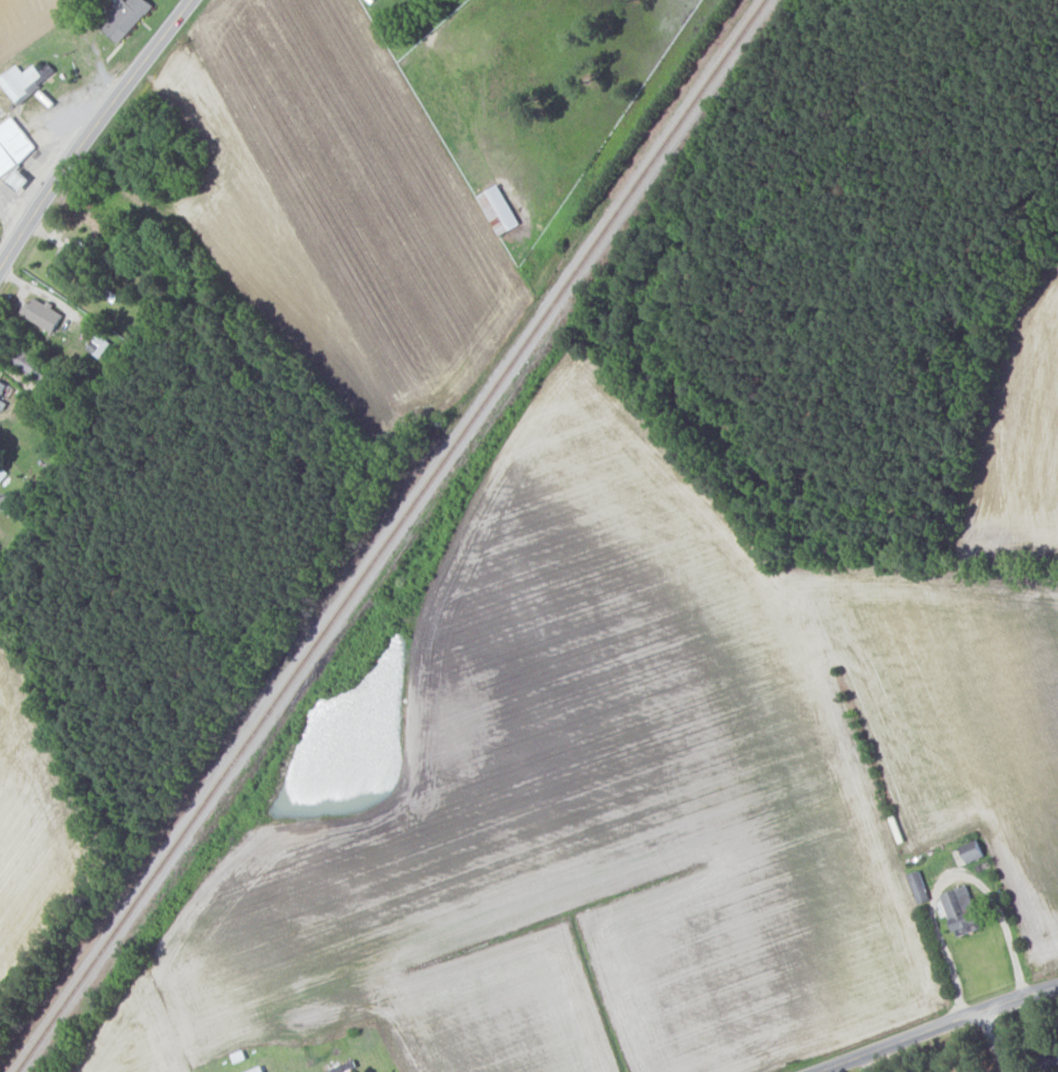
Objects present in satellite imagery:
building: (124, 17)
building: (23, 81)
road: (93, 132)
building: (13, 145)
building: (498, 210)
building: (66, 263)
building: (44, 314)
building: (98, 345)
building: (2, 393)
railway: (390, 535)
building: (973, 849)
road: (950, 876)
building: (962, 908)
road: (940, 1029)
road: (998, 1041)
building: (254, 1070)
building: (266, 1071)

